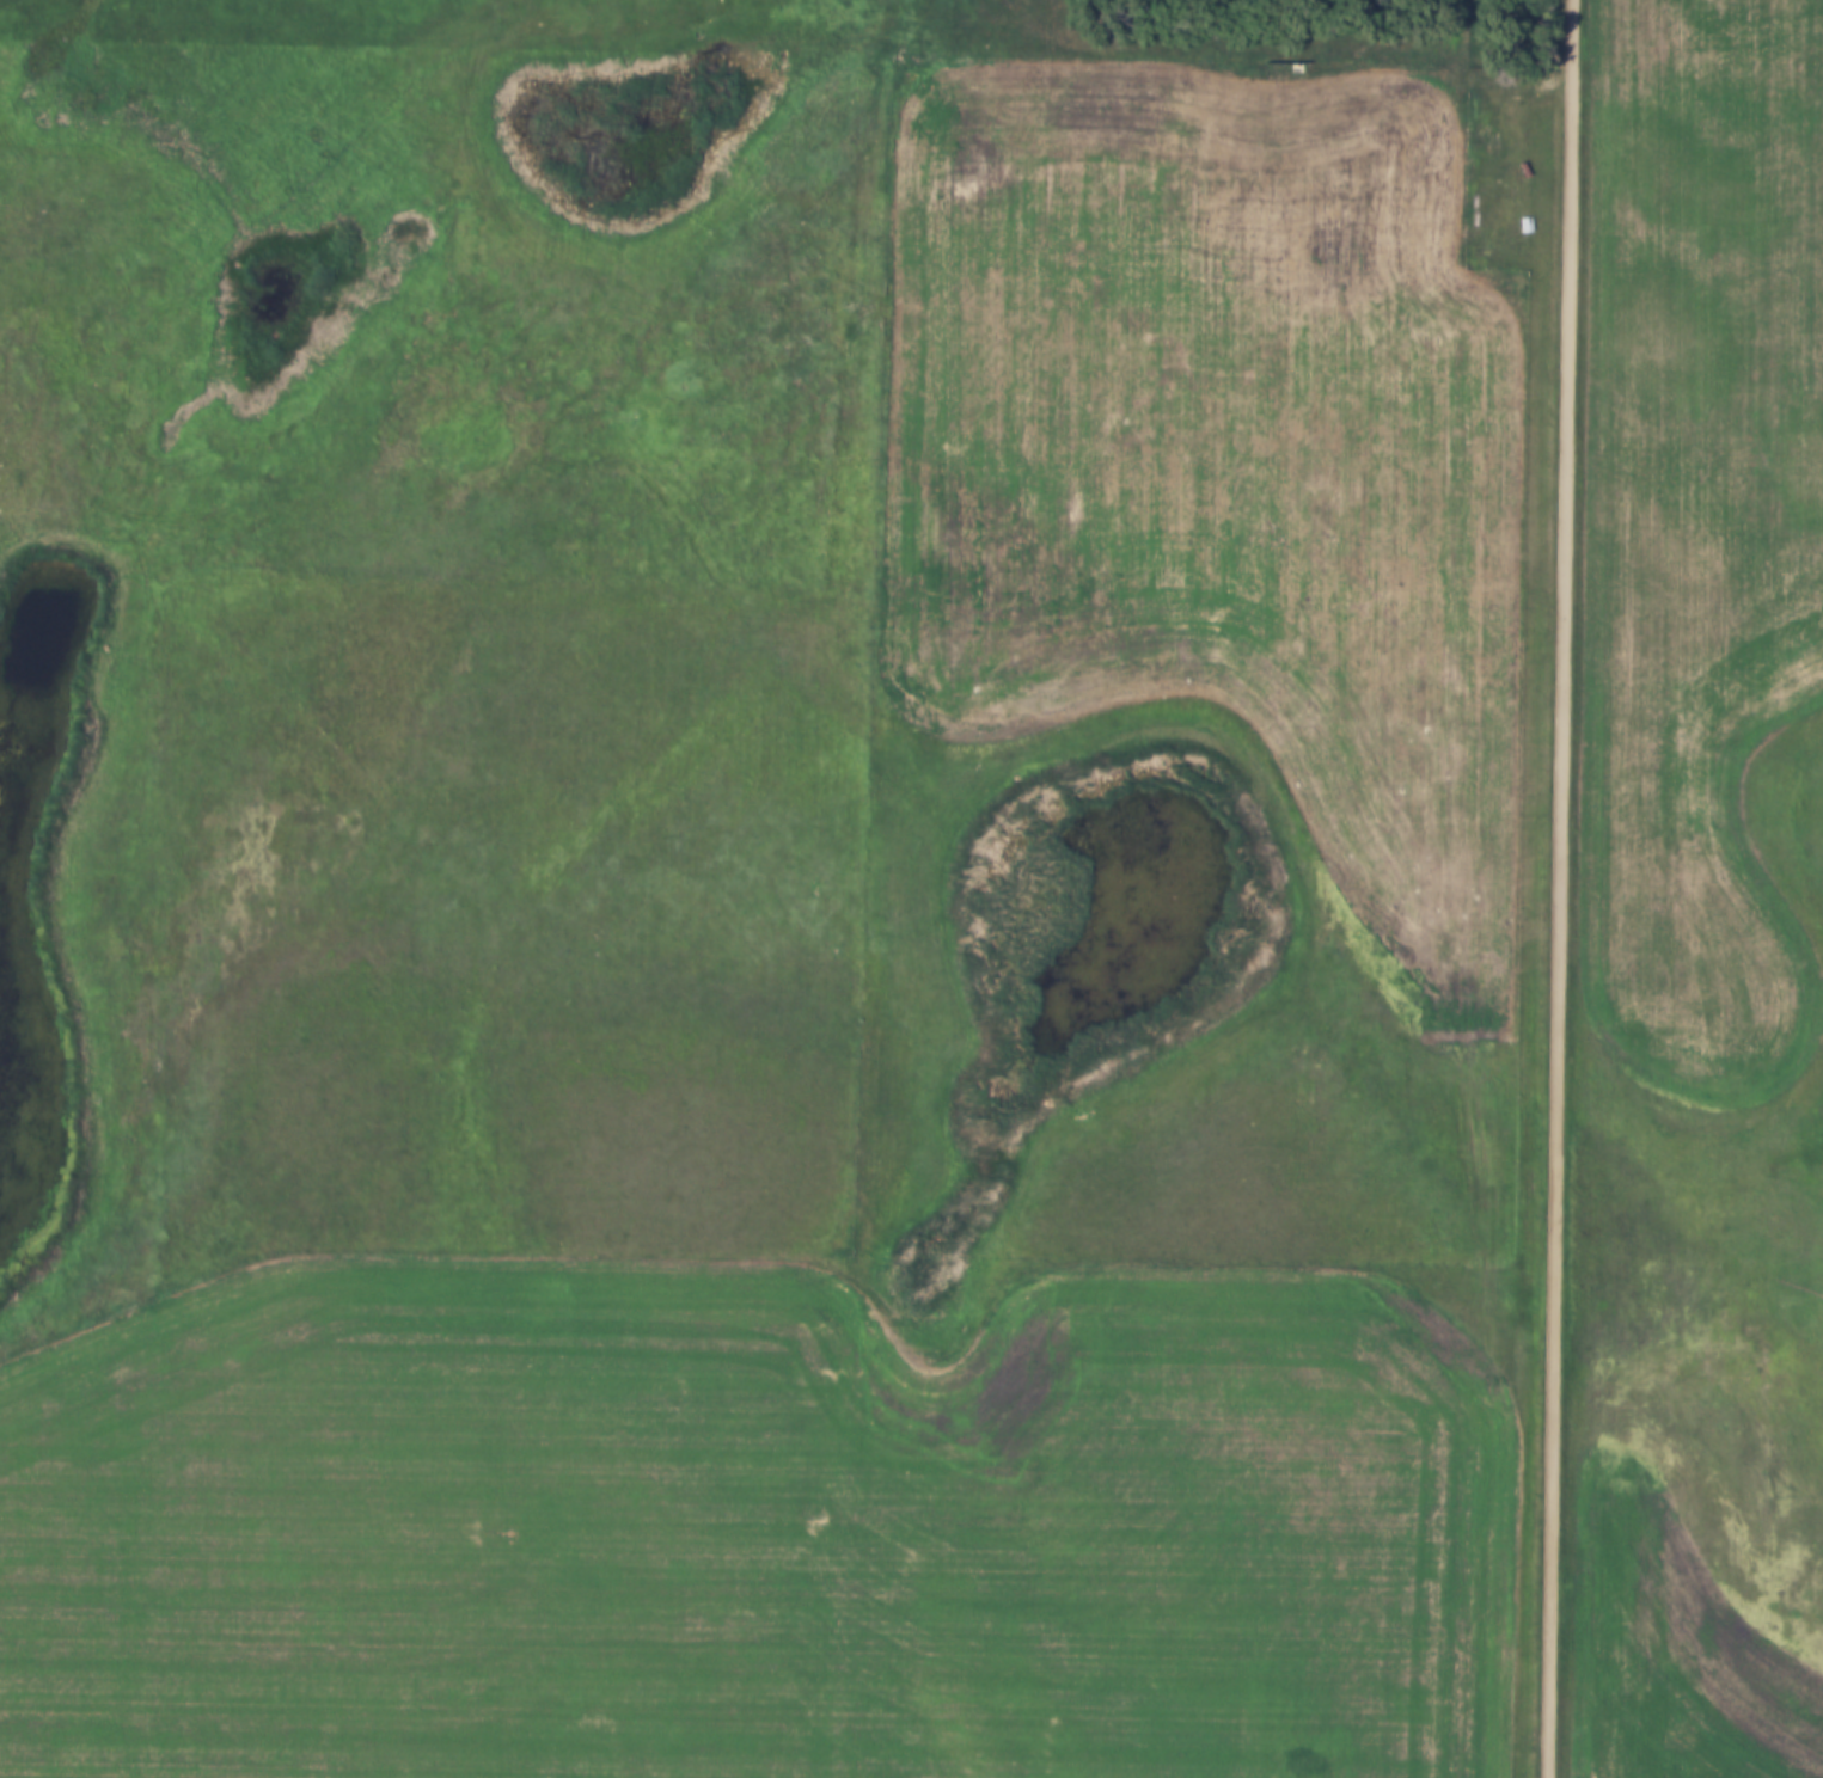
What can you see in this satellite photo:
road: (1561, 888)

